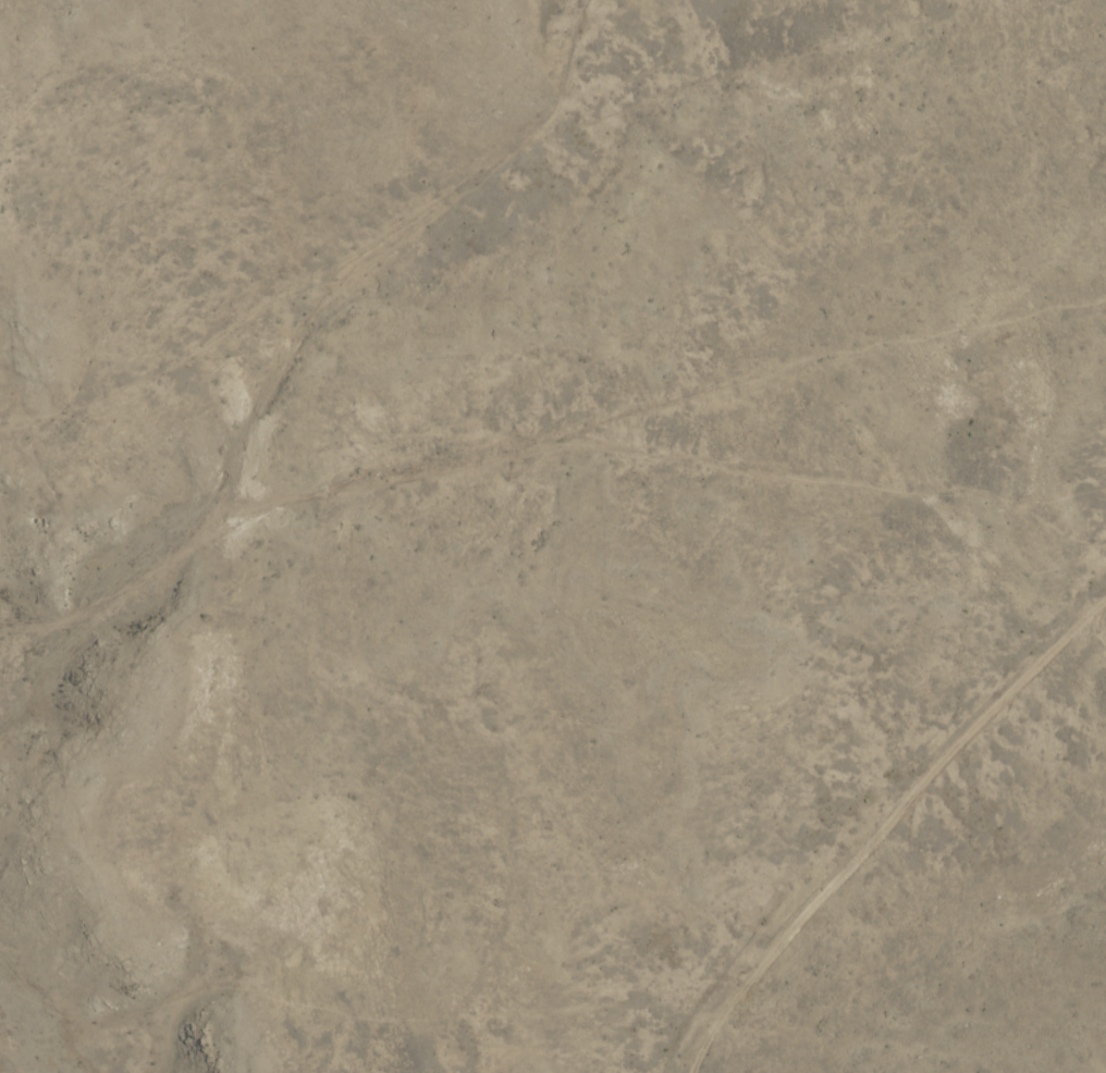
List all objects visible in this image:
road: (887, 826)

